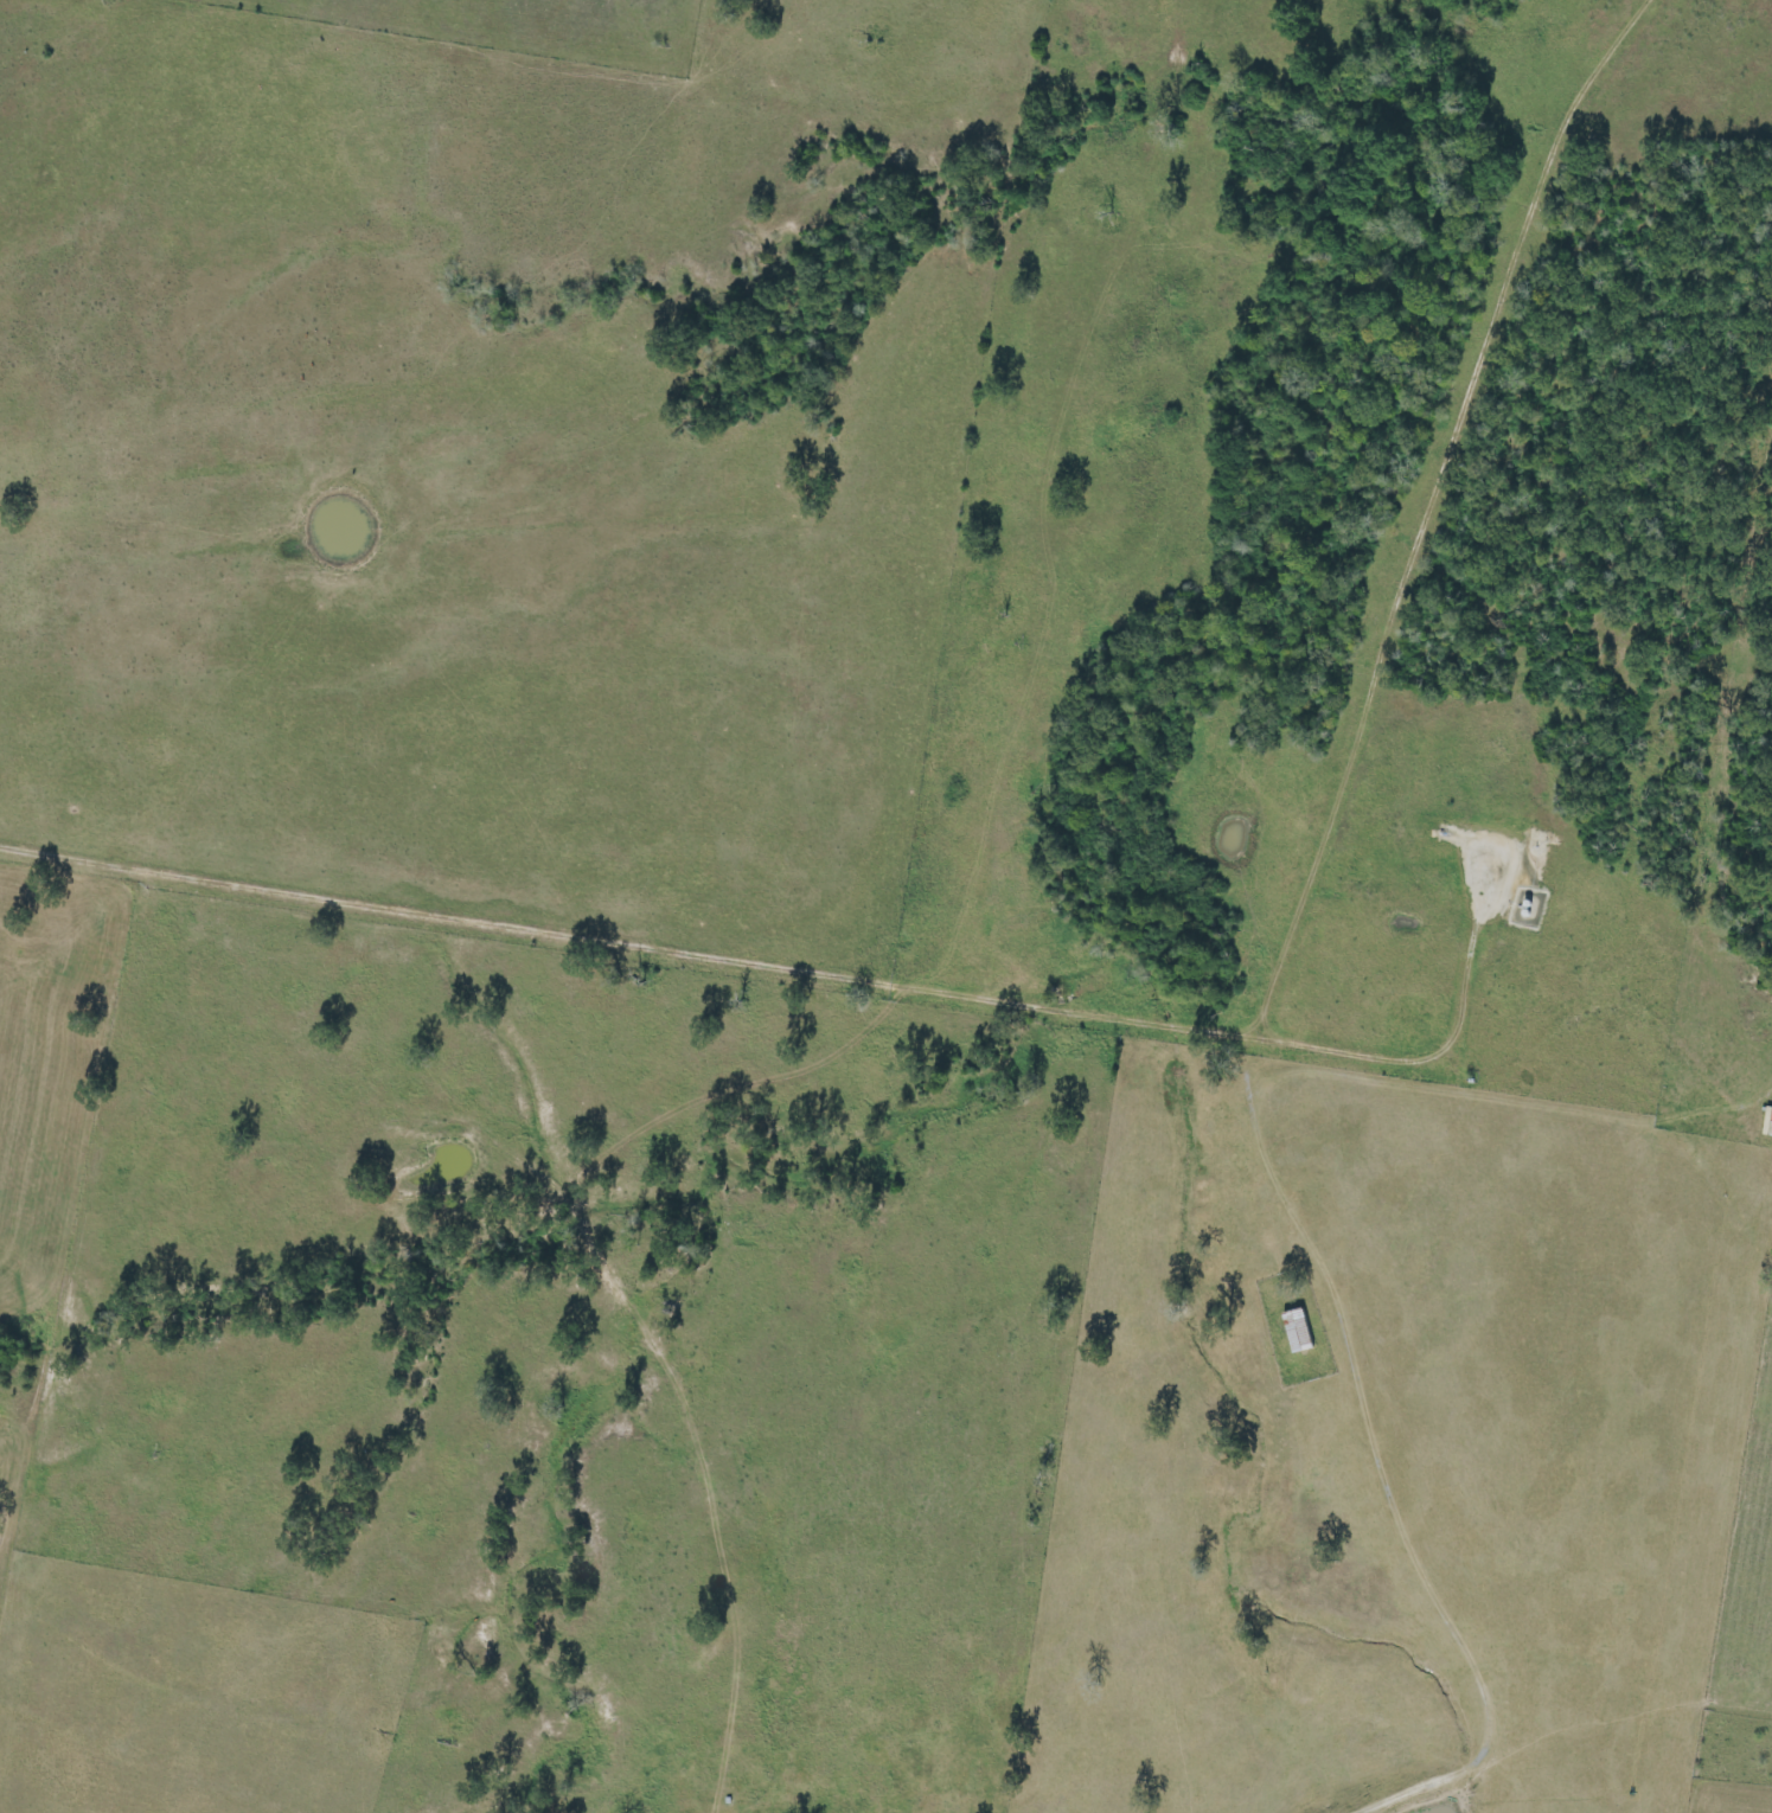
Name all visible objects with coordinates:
building: (1303, 1331)

